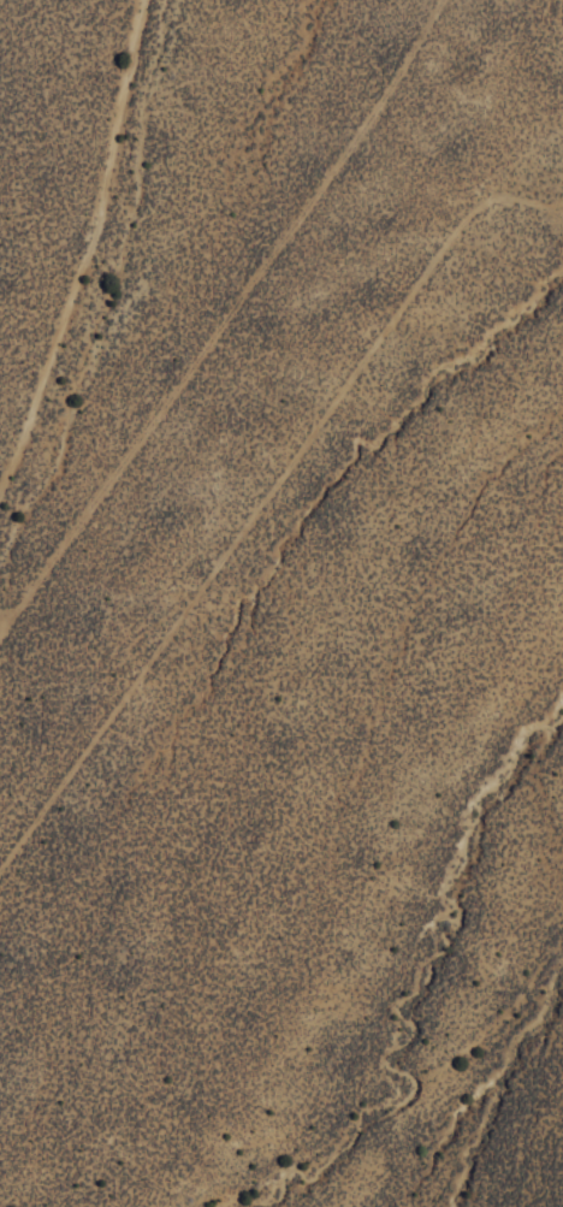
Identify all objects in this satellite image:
road: (71, 250)

